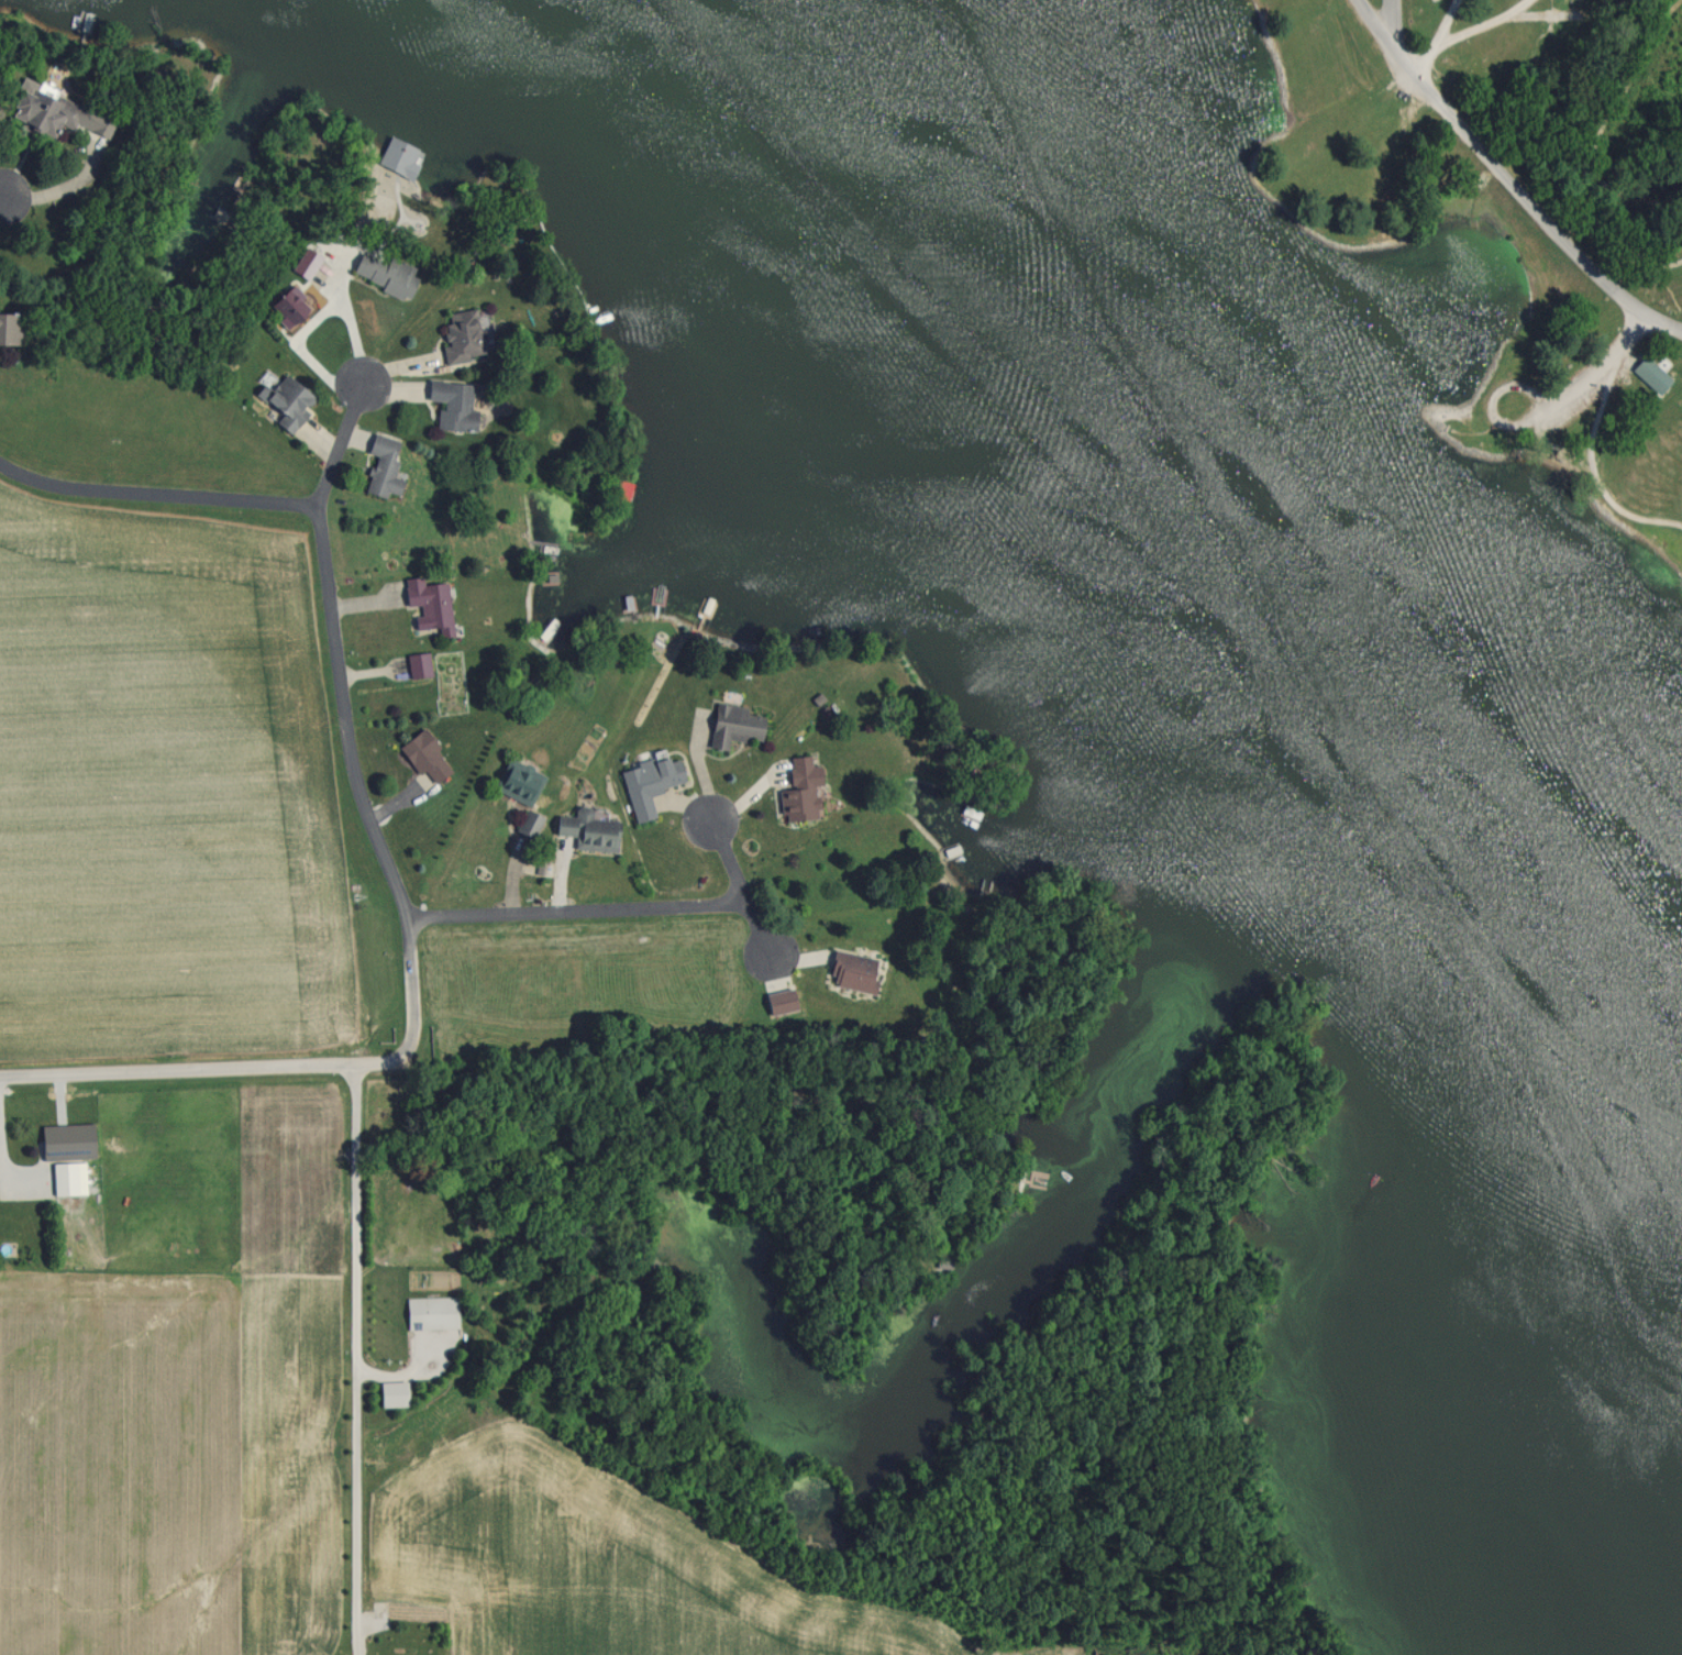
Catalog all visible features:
building: (1557, 12)
road: (1395, 21)
road: (1454, 23)
road: (1498, 31)
road: (1432, 60)
building: (42, 109)
road: (1509, 177)
road: (2, 201)
park: (1449, 238)
building: (385, 274)
building: (291, 306)
building: (9, 329)
building: (463, 334)
building: (1651, 374)
road: (1606, 375)
building: (287, 401)
building: (453, 405)
road: (339, 443)
building: (384, 466)
road: (154, 495)
building: (429, 605)
building: (419, 665)
building: (733, 724)
building: (425, 758)
building: (518, 780)
building: (650, 783)
building: (801, 788)
road: (361, 791)
building: (969, 810)
building: (529, 823)
building: (588, 829)
road: (743, 885)
road: (580, 908)
building: (853, 970)
road: (272, 1069)
building: (64, 1178)
building: (430, 1312)
road: (358, 1360)
building: (392, 1393)

